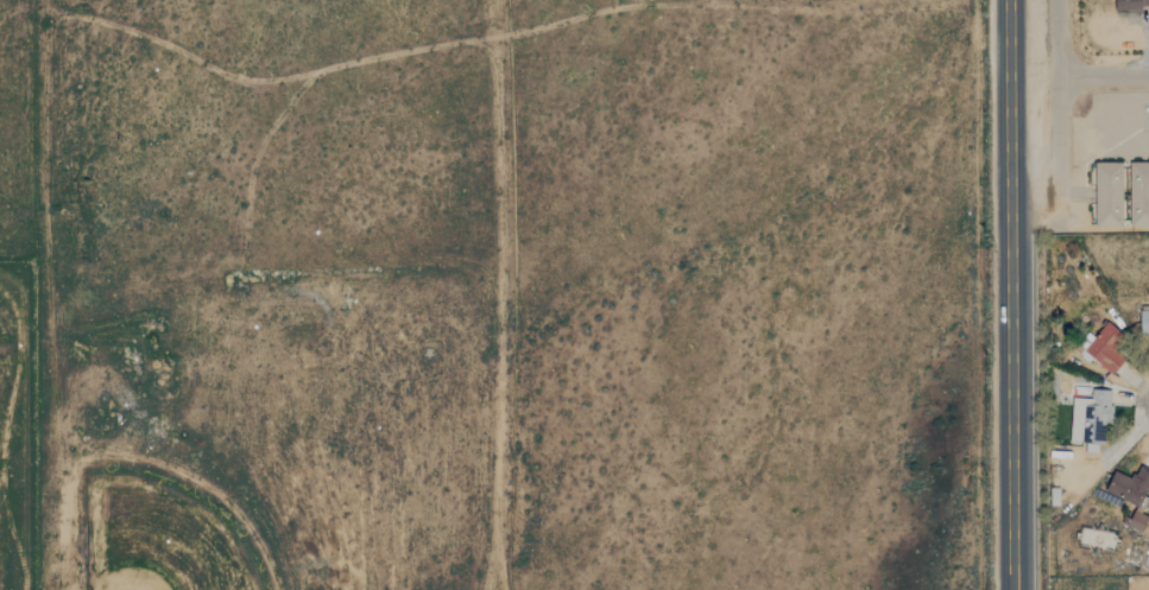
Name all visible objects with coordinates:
building: (1130, 5)
road: (1058, 37)
road: (1104, 72)
road: (1005, 116)
road: (1059, 135)
building: (1107, 194)
building: (1138, 194)
building: (1144, 322)
building: (1105, 348)
road: (1011, 412)
building: (1090, 420)
building: (1129, 487)
building: (1137, 521)

